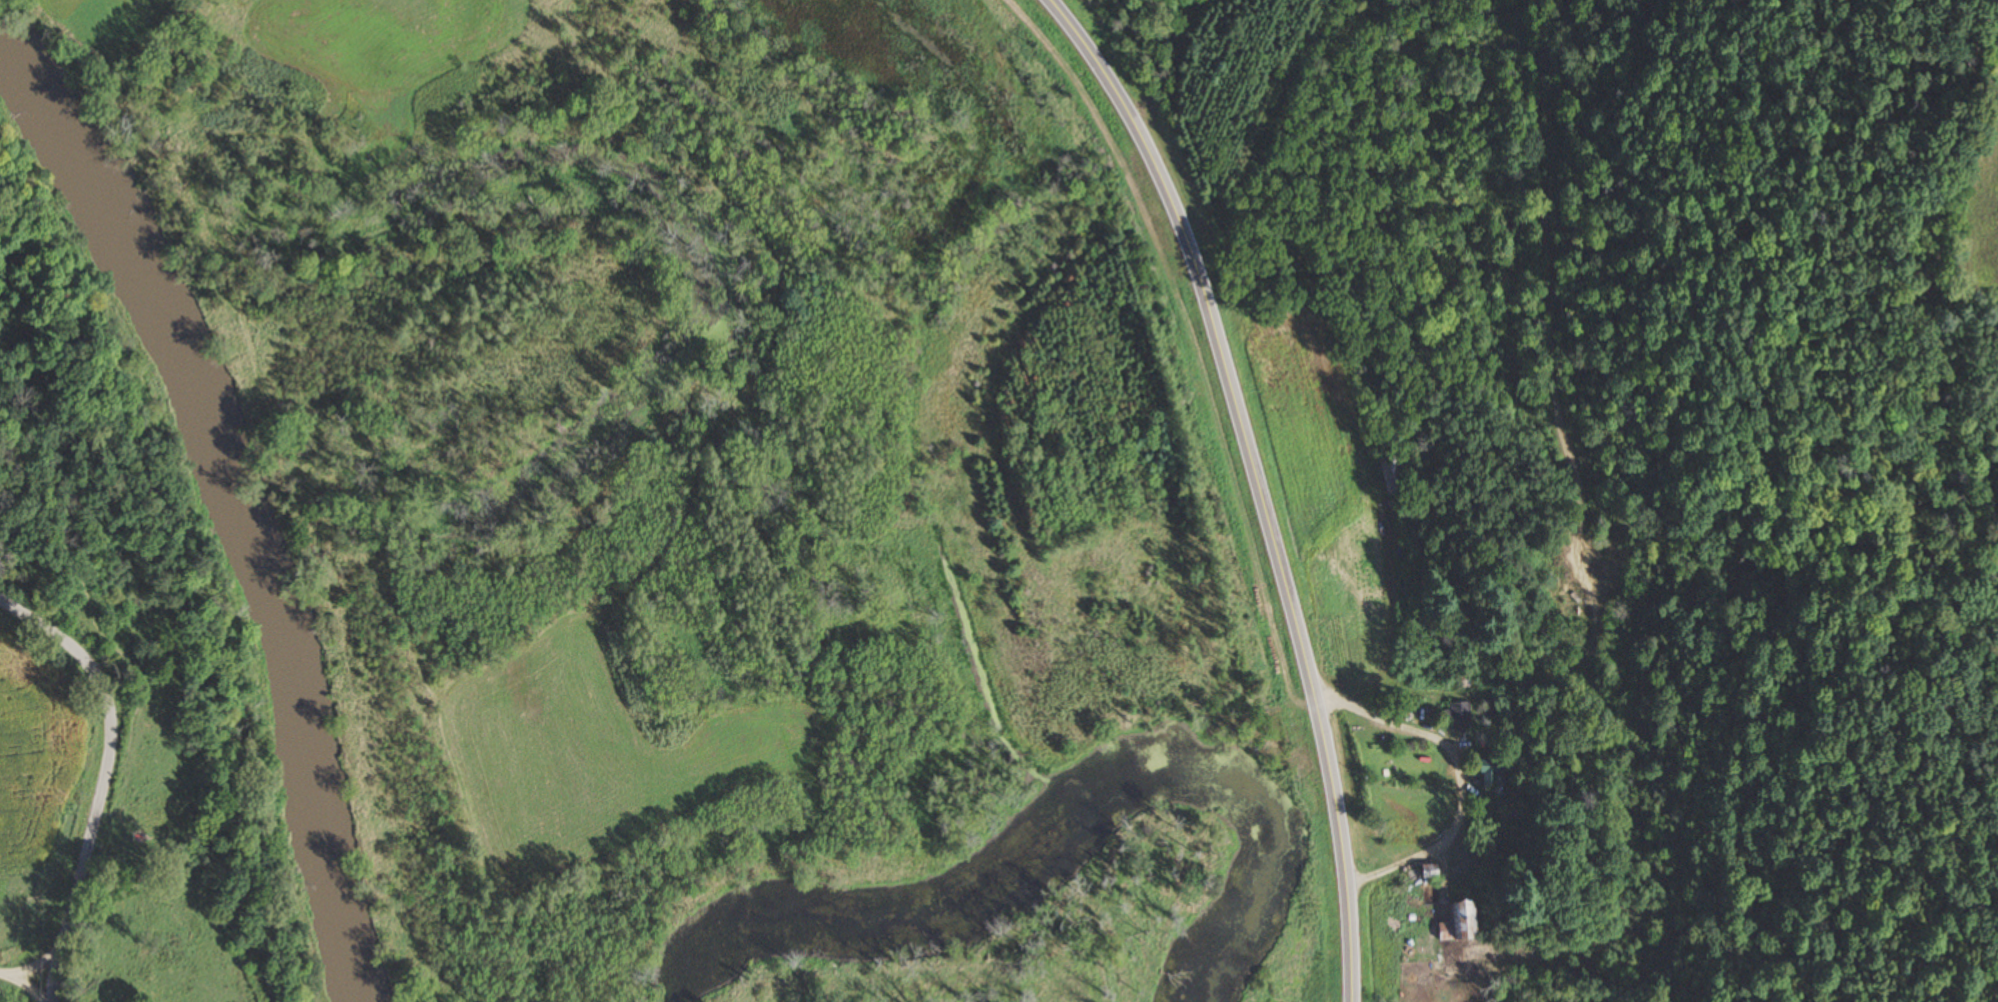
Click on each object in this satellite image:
building: (1391, 473)
road: (1257, 482)
river: (228, 508)
building: (1458, 715)
building: (1488, 773)
road: (103, 778)
building: (1427, 872)
building: (1458, 924)
road: (27, 979)

